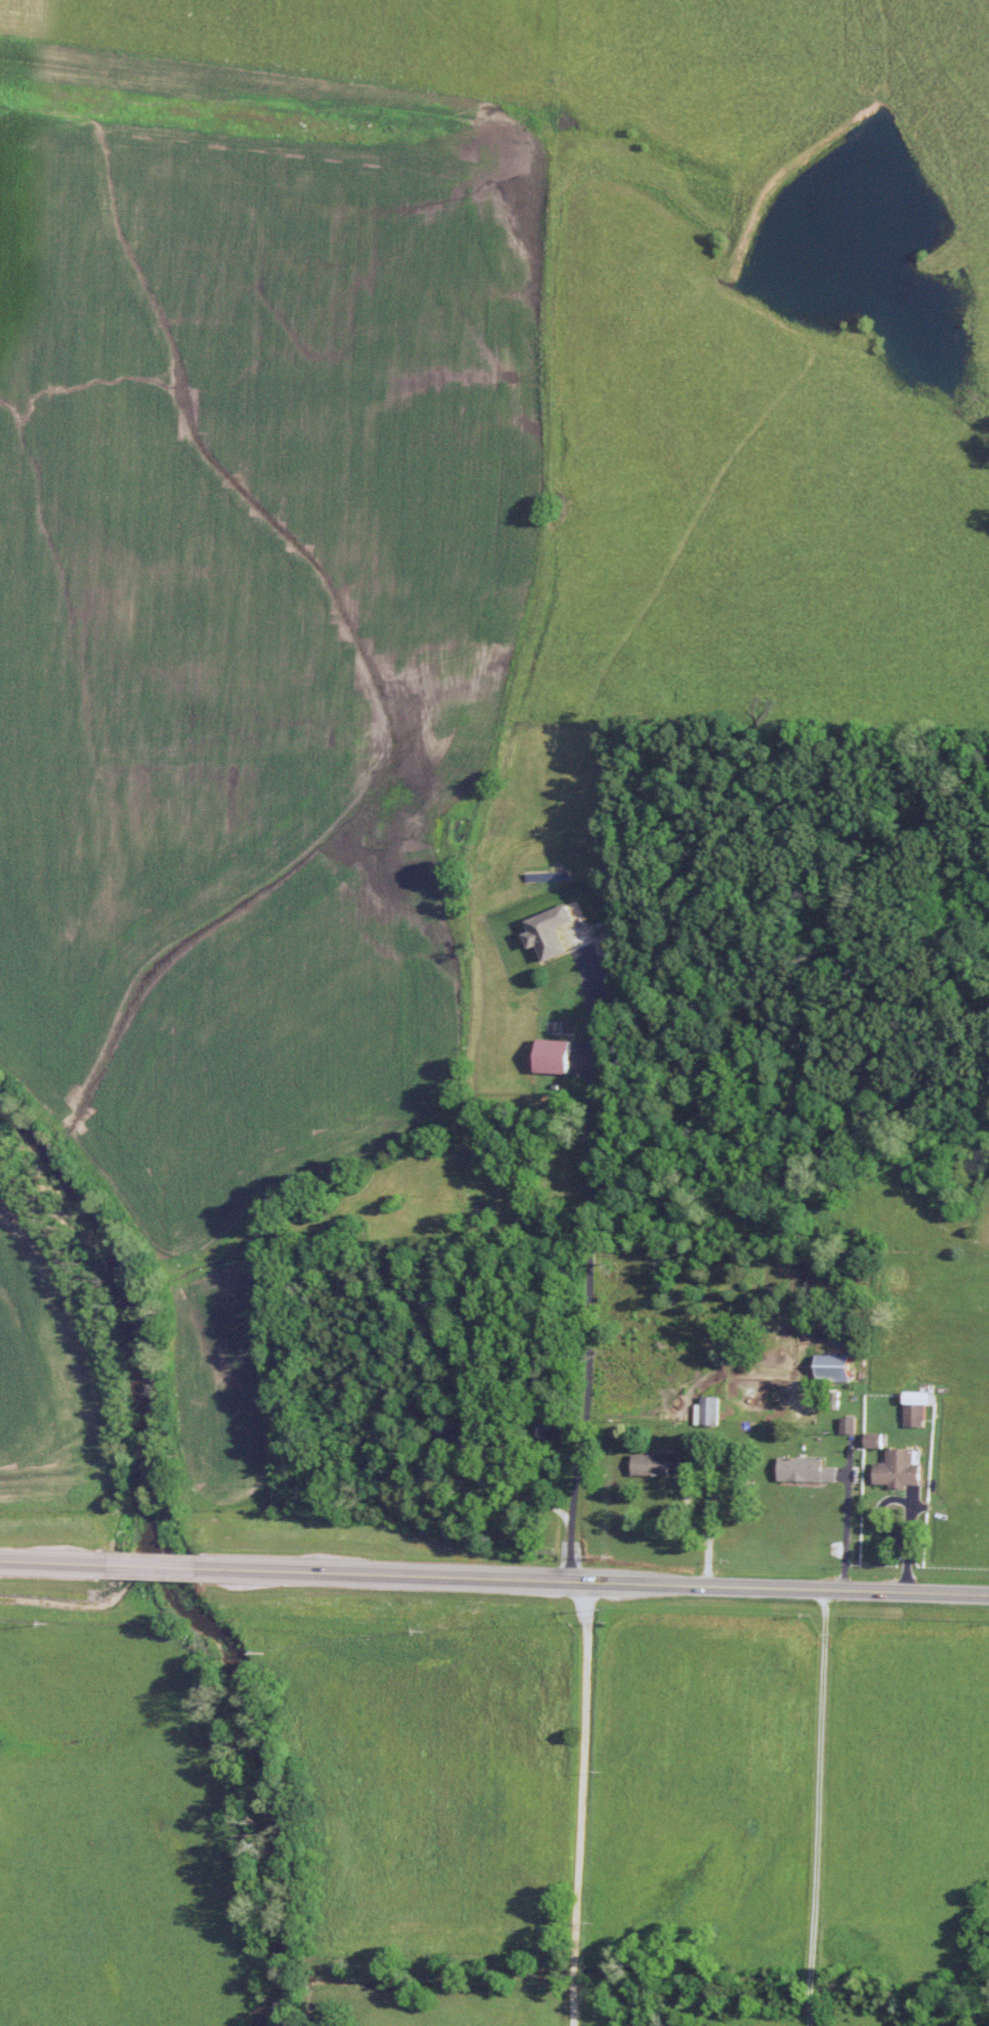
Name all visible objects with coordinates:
building: (548, 931)
building: (554, 1055)
road: (587, 1314)
building: (710, 1410)
building: (915, 1415)
building: (848, 1425)
building: (557, 1429)
building: (461, 1439)
building: (873, 1440)
building: (662, 1464)
building: (900, 1468)
building: (806, 1469)
road: (911, 1504)
road: (844, 1533)
road: (46, 1558)
road: (146, 1563)
road: (595, 1580)
road: (566, 1803)
road: (800, 1806)

